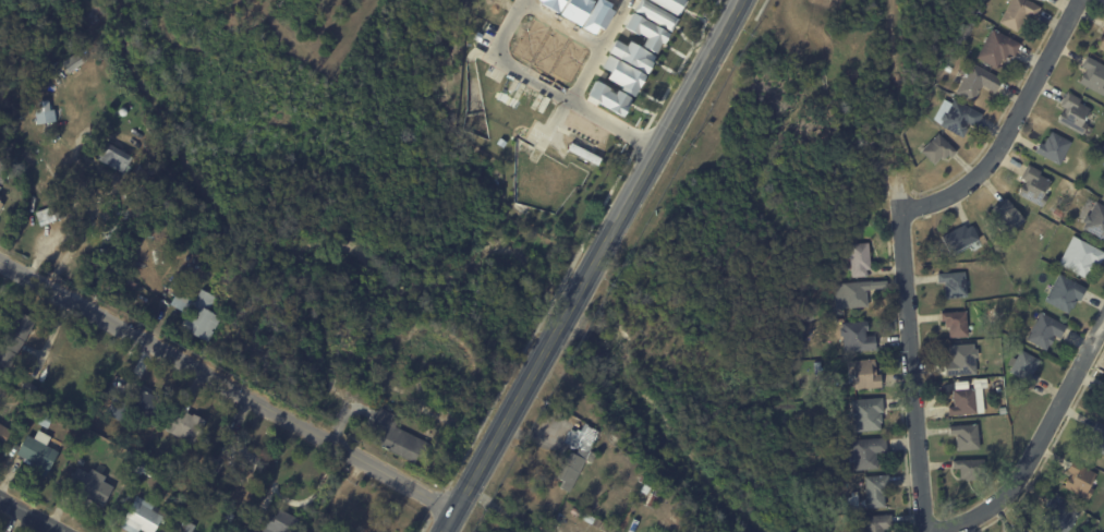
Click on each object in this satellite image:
building: (549, 3)
building: (670, 4)
building: (494, 8)
building: (574, 9)
building: (654, 13)
building: (1018, 13)
building: (596, 15)
road: (507, 23)
road: (560, 23)
building: (1103, 27)
building: (646, 32)
parking lot: (487, 34)
building: (530, 39)
building: (1101, 43)
building: (996, 48)
road: (597, 49)
road: (481, 50)
building: (547, 52)
building: (631, 55)
building: (570, 61)
building: (947, 69)
parking lot: (494, 72)
building: (622, 74)
building: (1093, 75)
building: (975, 82)
building: (512, 96)
building: (608, 97)
road: (573, 100)
building: (537, 108)
building: (1073, 113)
building: (44, 117)
building: (959, 118)
road: (553, 124)
road: (1010, 128)
parking lot: (534, 132)
building: (565, 133)
road: (665, 135)
building: (590, 138)
building: (1054, 147)
building: (1103, 147)
building: (937, 149)
building: (113, 157)
building: (1033, 185)
building: (1103, 194)
building: (1, 201)
building: (1057, 213)
building: (50, 215)
building: (1007, 217)
road: (68, 218)
building: (1095, 220)
building: (959, 238)
building: (1080, 257)
building: (859, 259)
building: (954, 285)
building: (1065, 293)
building: (856, 294)
road: (570, 306)
building: (0, 312)
building: (195, 313)
building: (971, 322)
building: (956, 324)
building: (1045, 331)
building: (14, 337)
building: (857, 337)
road: (909, 353)
building: (961, 360)
building: (1024, 366)
building: (816, 367)
building: (863, 375)
road: (227, 383)
building: (961, 386)
building: (26, 387)
building: (1103, 396)
building: (967, 402)
building: (821, 404)
building: (147, 406)
building: (121, 411)
building: (1003, 411)
building: (1103, 412)
building: (866, 414)
building: (44, 420)
building: (183, 426)
building: (2, 434)
road: (495, 436)
building: (966, 437)
building: (395, 438)
building: (610, 439)
building: (1097, 439)
road: (1034, 444)
building: (36, 452)
building: (868, 454)
building: (578, 455)
building: (238, 456)
building: (142, 469)
building: (970, 470)
building: (209, 474)
building: (641, 479)
building: (1081, 481)
building: (87, 486)
building: (645, 489)
building: (875, 491)
building: (651, 500)
building: (852, 503)
building: (575, 512)
road: (29, 515)
building: (142, 517)
building: (1058, 517)
building: (587, 519)
building: (359, 520)
building: (281, 523)
building: (877, 523)
building: (597, 524)
building: (604, 527)
building: (183, 528)
building: (611, 530)

